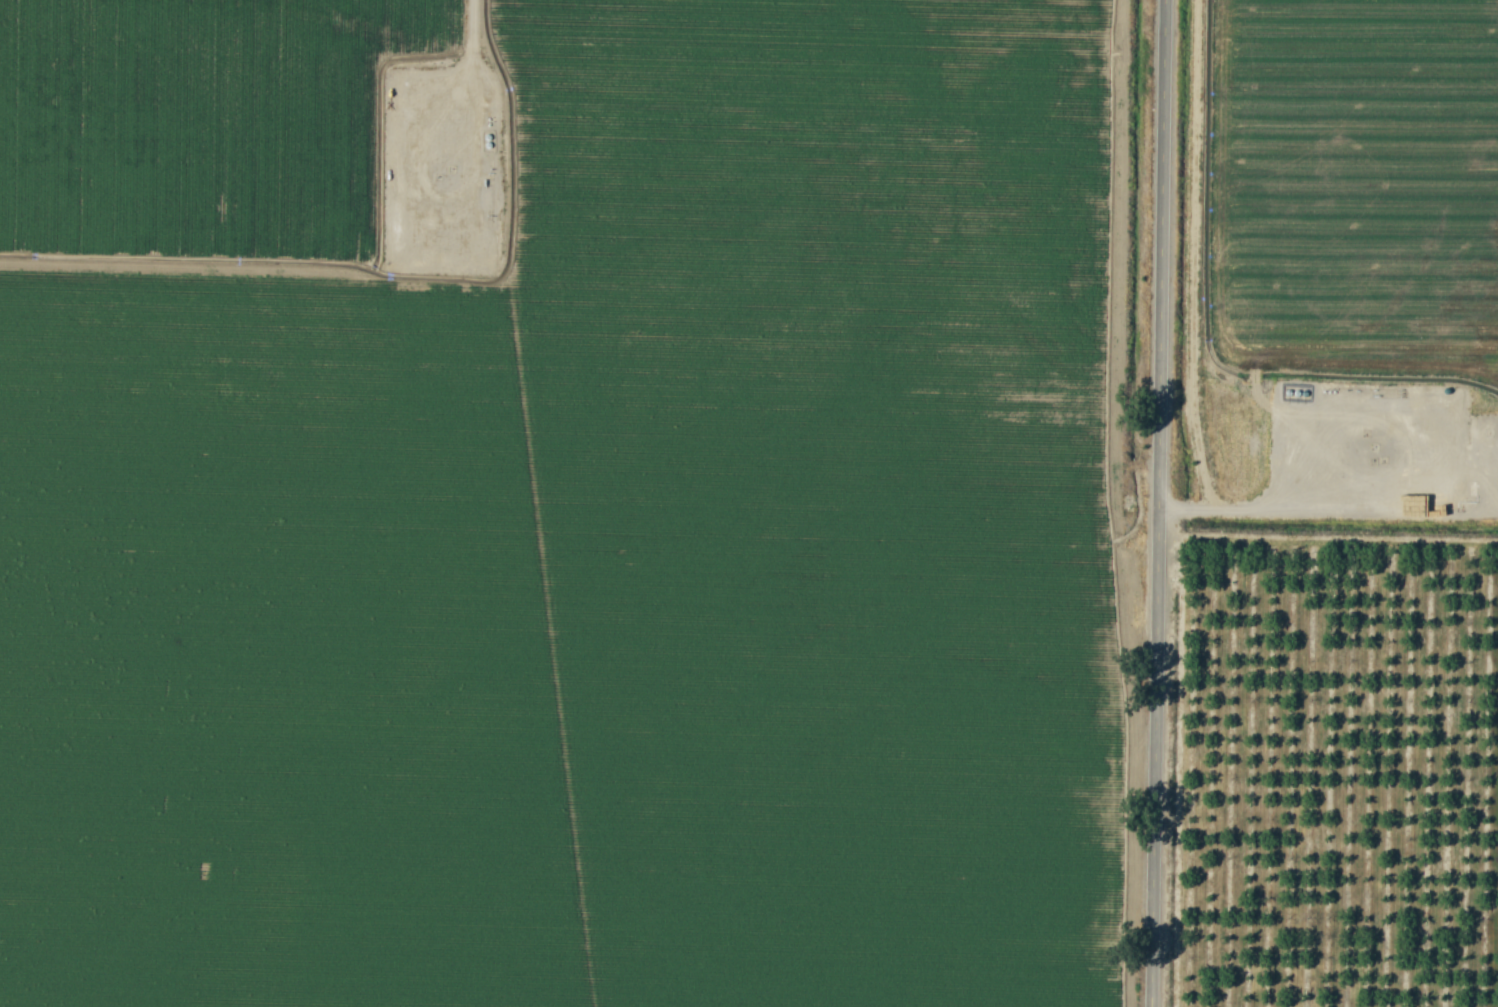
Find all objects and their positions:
road: (1166, 503)

